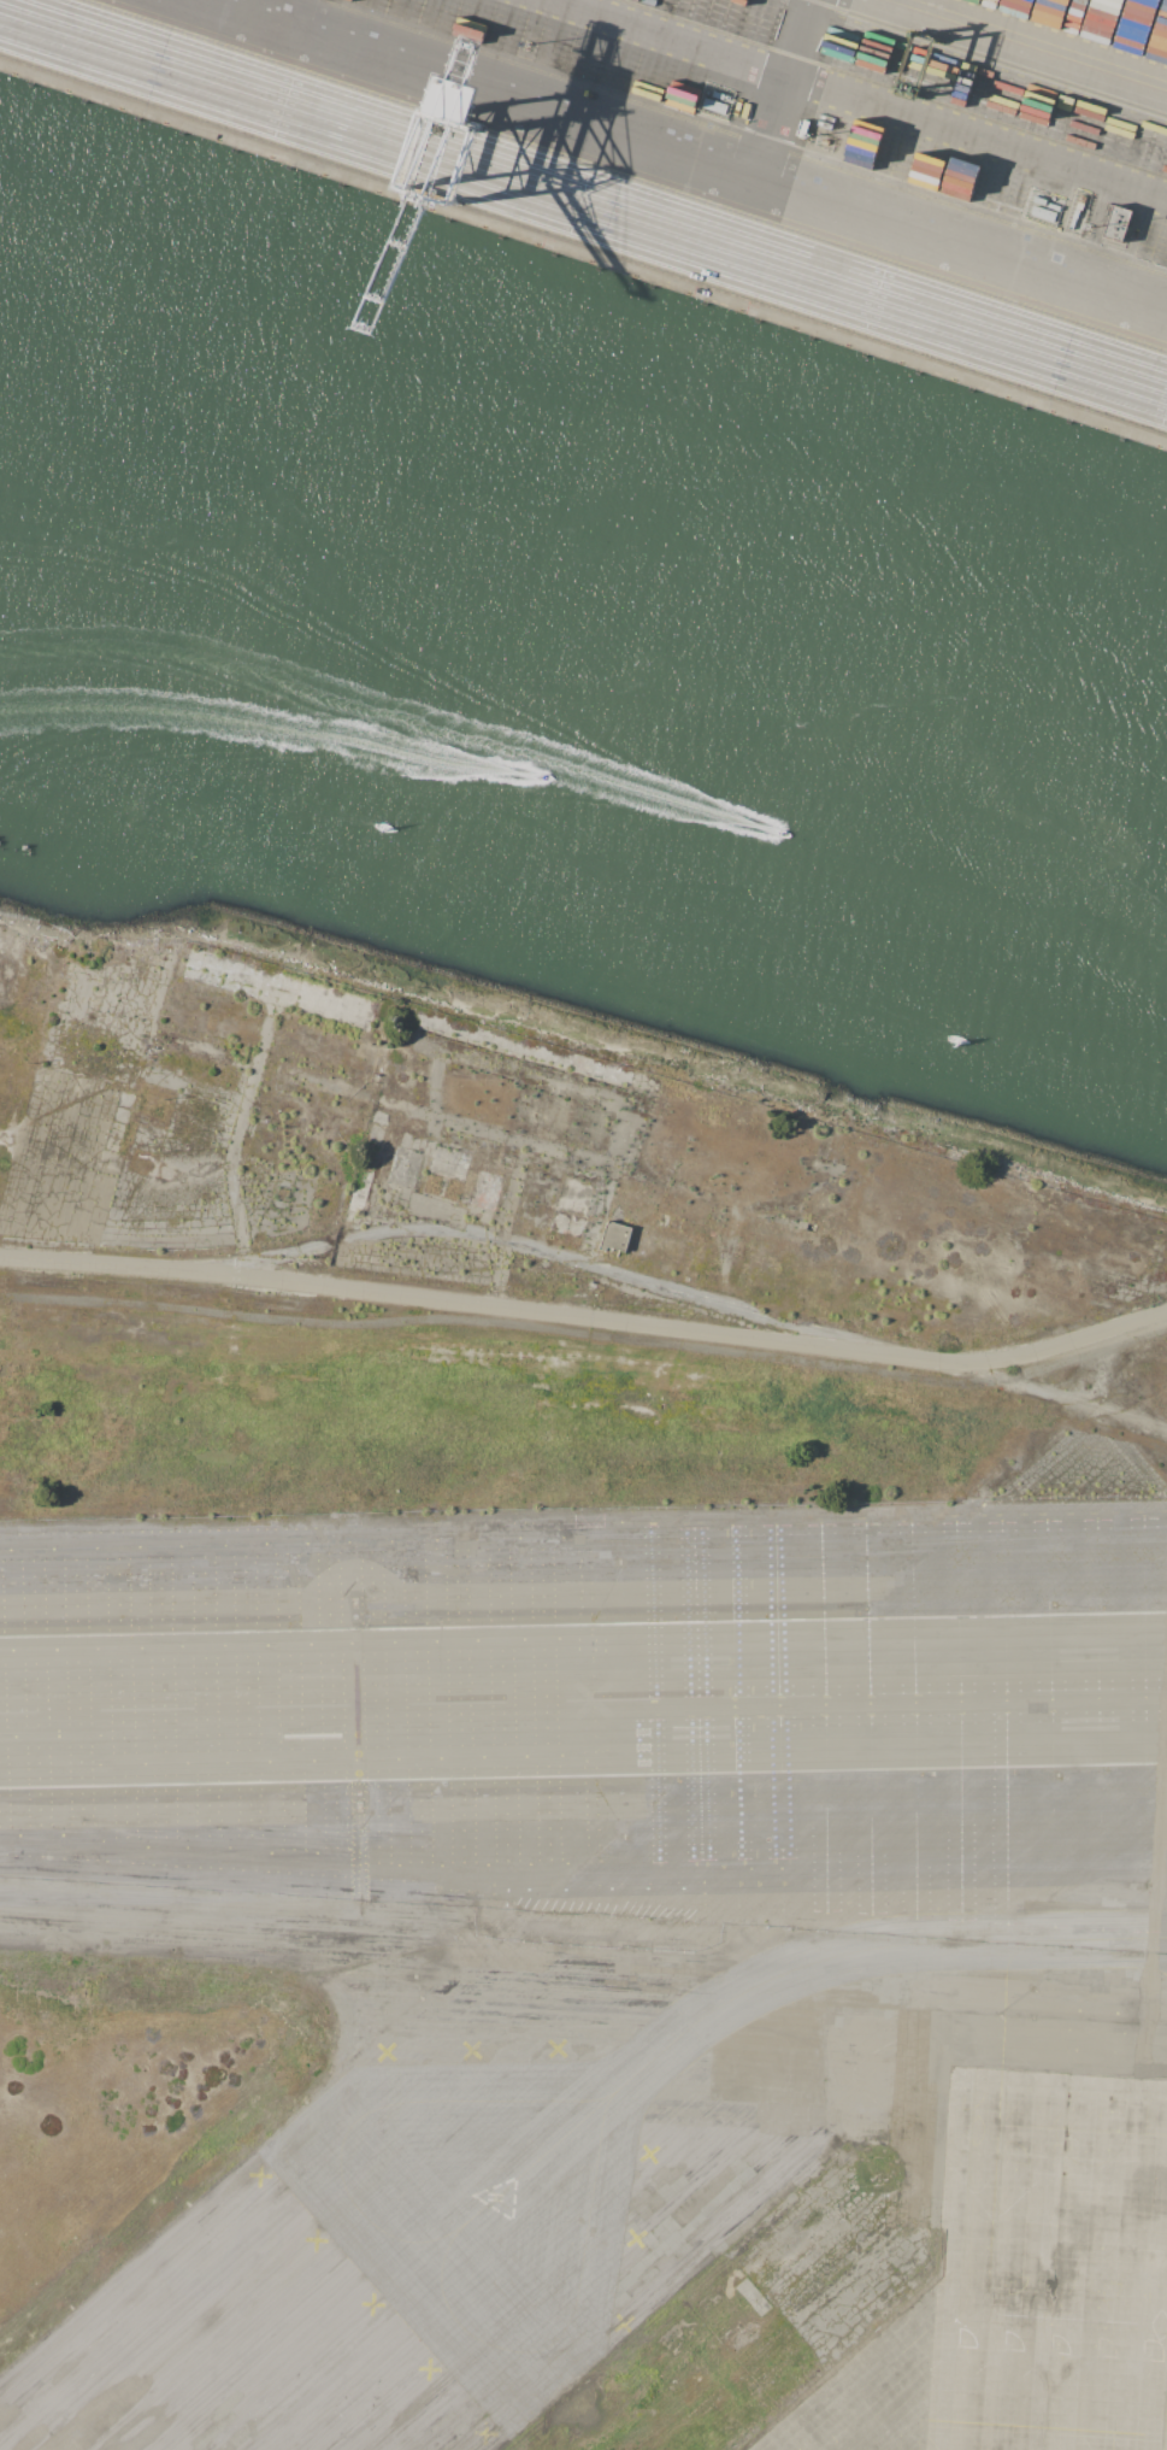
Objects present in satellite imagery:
building: (998, 5)
road: (277, 7)
building: (1049, 13)
road: (1024, 46)
road: (780, 86)
building: (718, 95)
road: (856, 100)
building: (715, 105)
road: (695, 152)
building: (942, 176)
building: (1041, 200)
building: (1054, 207)
building: (1077, 210)
building: (1043, 213)
building: (1116, 222)
river: (583, 619)
pier: (8, 846)
building: (614, 1236)
road: (587, 1318)
parking lot: (888, 1712)

